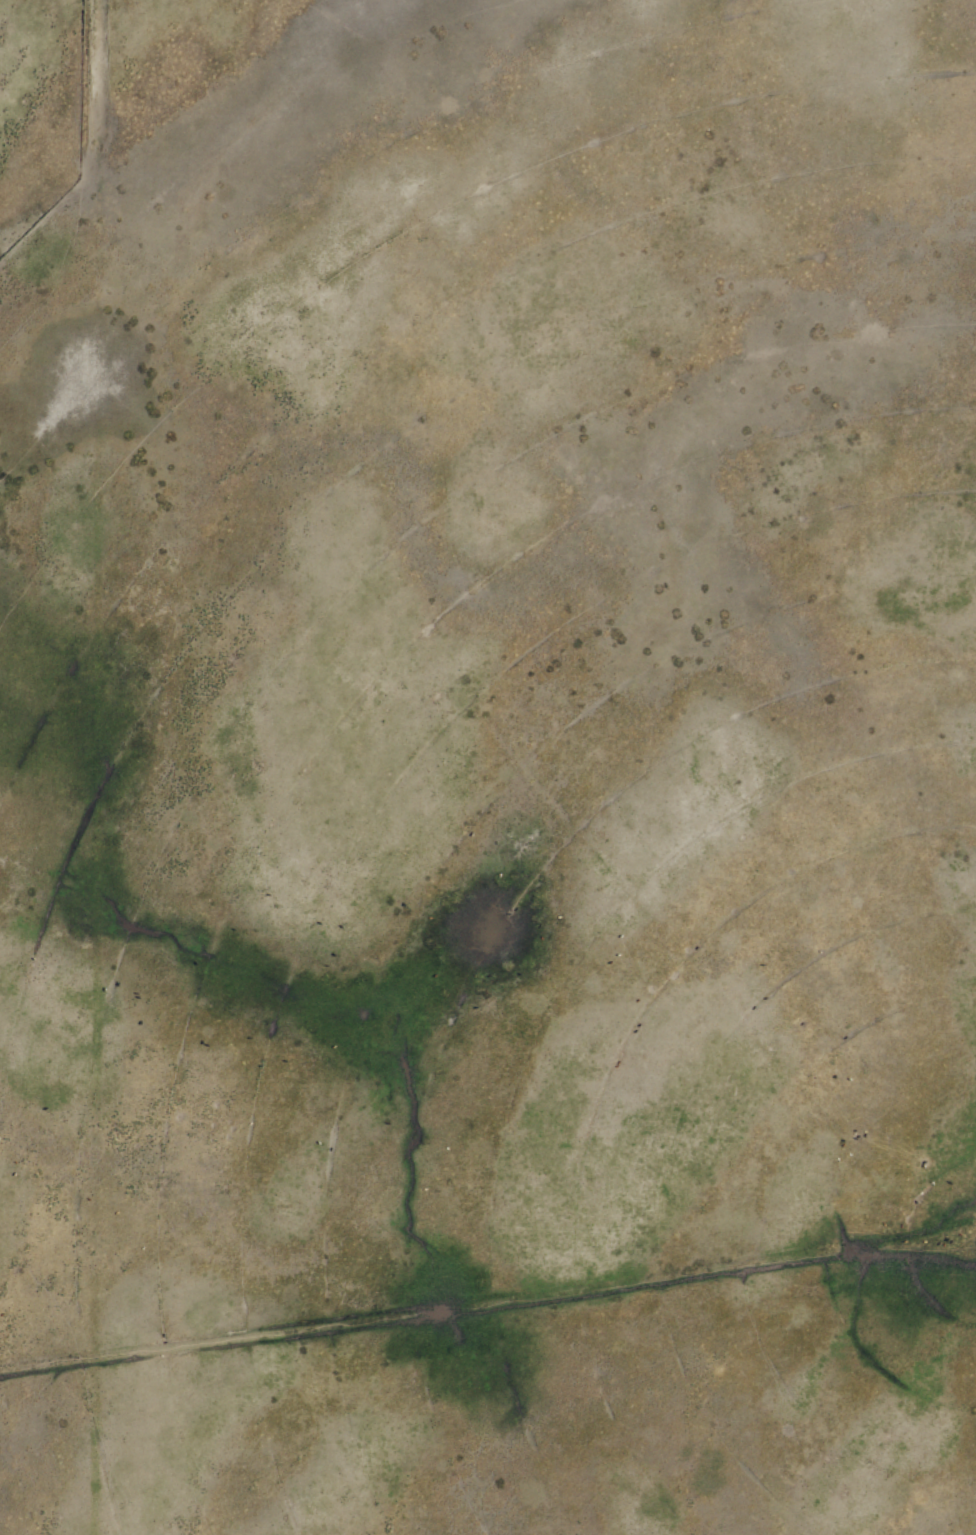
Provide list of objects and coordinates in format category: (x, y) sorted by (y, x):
crop: (488, 767)

